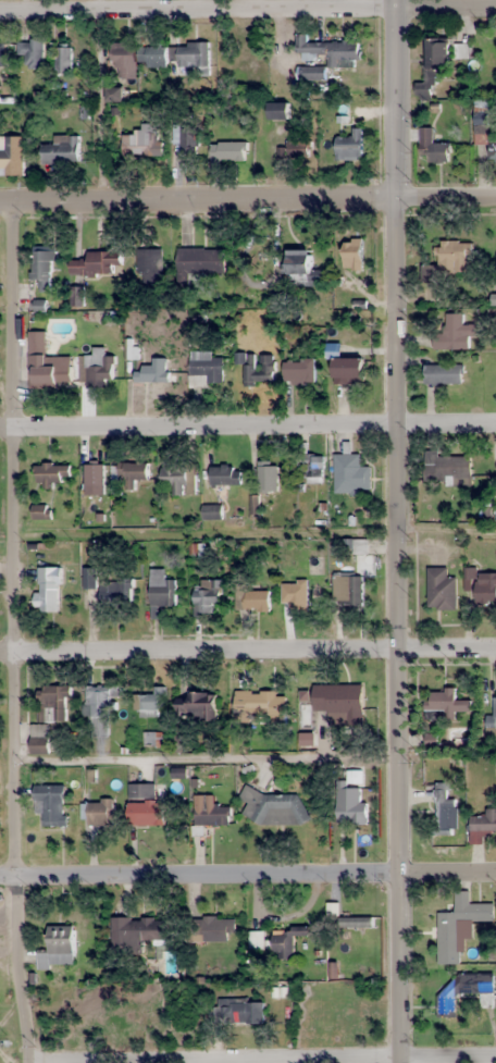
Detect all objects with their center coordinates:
road: (248, 10)
building: (29, 50)
building: (2, 54)
building: (190, 55)
building: (151, 57)
building: (224, 57)
building: (62, 60)
building: (122, 60)
building: (343, 61)
building: (433, 66)
building: (114, 95)
building: (278, 111)
building: (480, 125)
building: (188, 139)
building: (144, 141)
building: (350, 146)
building: (432, 148)
building: (294, 149)
building: (62, 150)
building: (228, 150)
building: (492, 150)
building: (11, 156)
road: (247, 200)
building: (352, 254)
building: (454, 256)
building: (201, 261)
building: (299, 261)
building: (97, 263)
building: (149, 265)
building: (42, 270)
building: (454, 334)
building: (47, 362)
building: (204, 366)
building: (96, 369)
building: (348, 369)
building: (260, 370)
building: (299, 371)
building: (151, 372)
building: (444, 374)
road: (247, 422)
building: (314, 469)
building: (446, 469)
building: (132, 472)
building: (351, 473)
building: (51, 474)
building: (225, 475)
building: (268, 477)
building: (175, 478)
building: (40, 511)
building: (211, 511)
road: (398, 531)
building: (89, 578)
building: (347, 588)
building: (486, 588)
building: (47, 590)
building: (161, 590)
building: (441, 590)
building: (119, 594)
building: (206, 595)
building: (300, 595)
building: (256, 600)
road: (10, 633)
road: (248, 646)
building: (337, 699)
building: (150, 702)
building: (52, 703)
building: (196, 705)
building: (260, 705)
building: (446, 706)
building: (98, 710)
building: (494, 710)
building: (39, 739)
building: (51, 805)
building: (145, 805)
building: (350, 805)
building: (273, 807)
building: (210, 811)
building: (443, 811)
building: (97, 812)
building: (485, 821)
road: (247, 874)
building: (457, 925)
building: (215, 928)
building: (138, 930)
building: (258, 940)
building: (284, 941)
building: (58, 948)
building: (463, 988)
building: (240, 1011)
road: (449, 1058)
road: (278, 1061)

